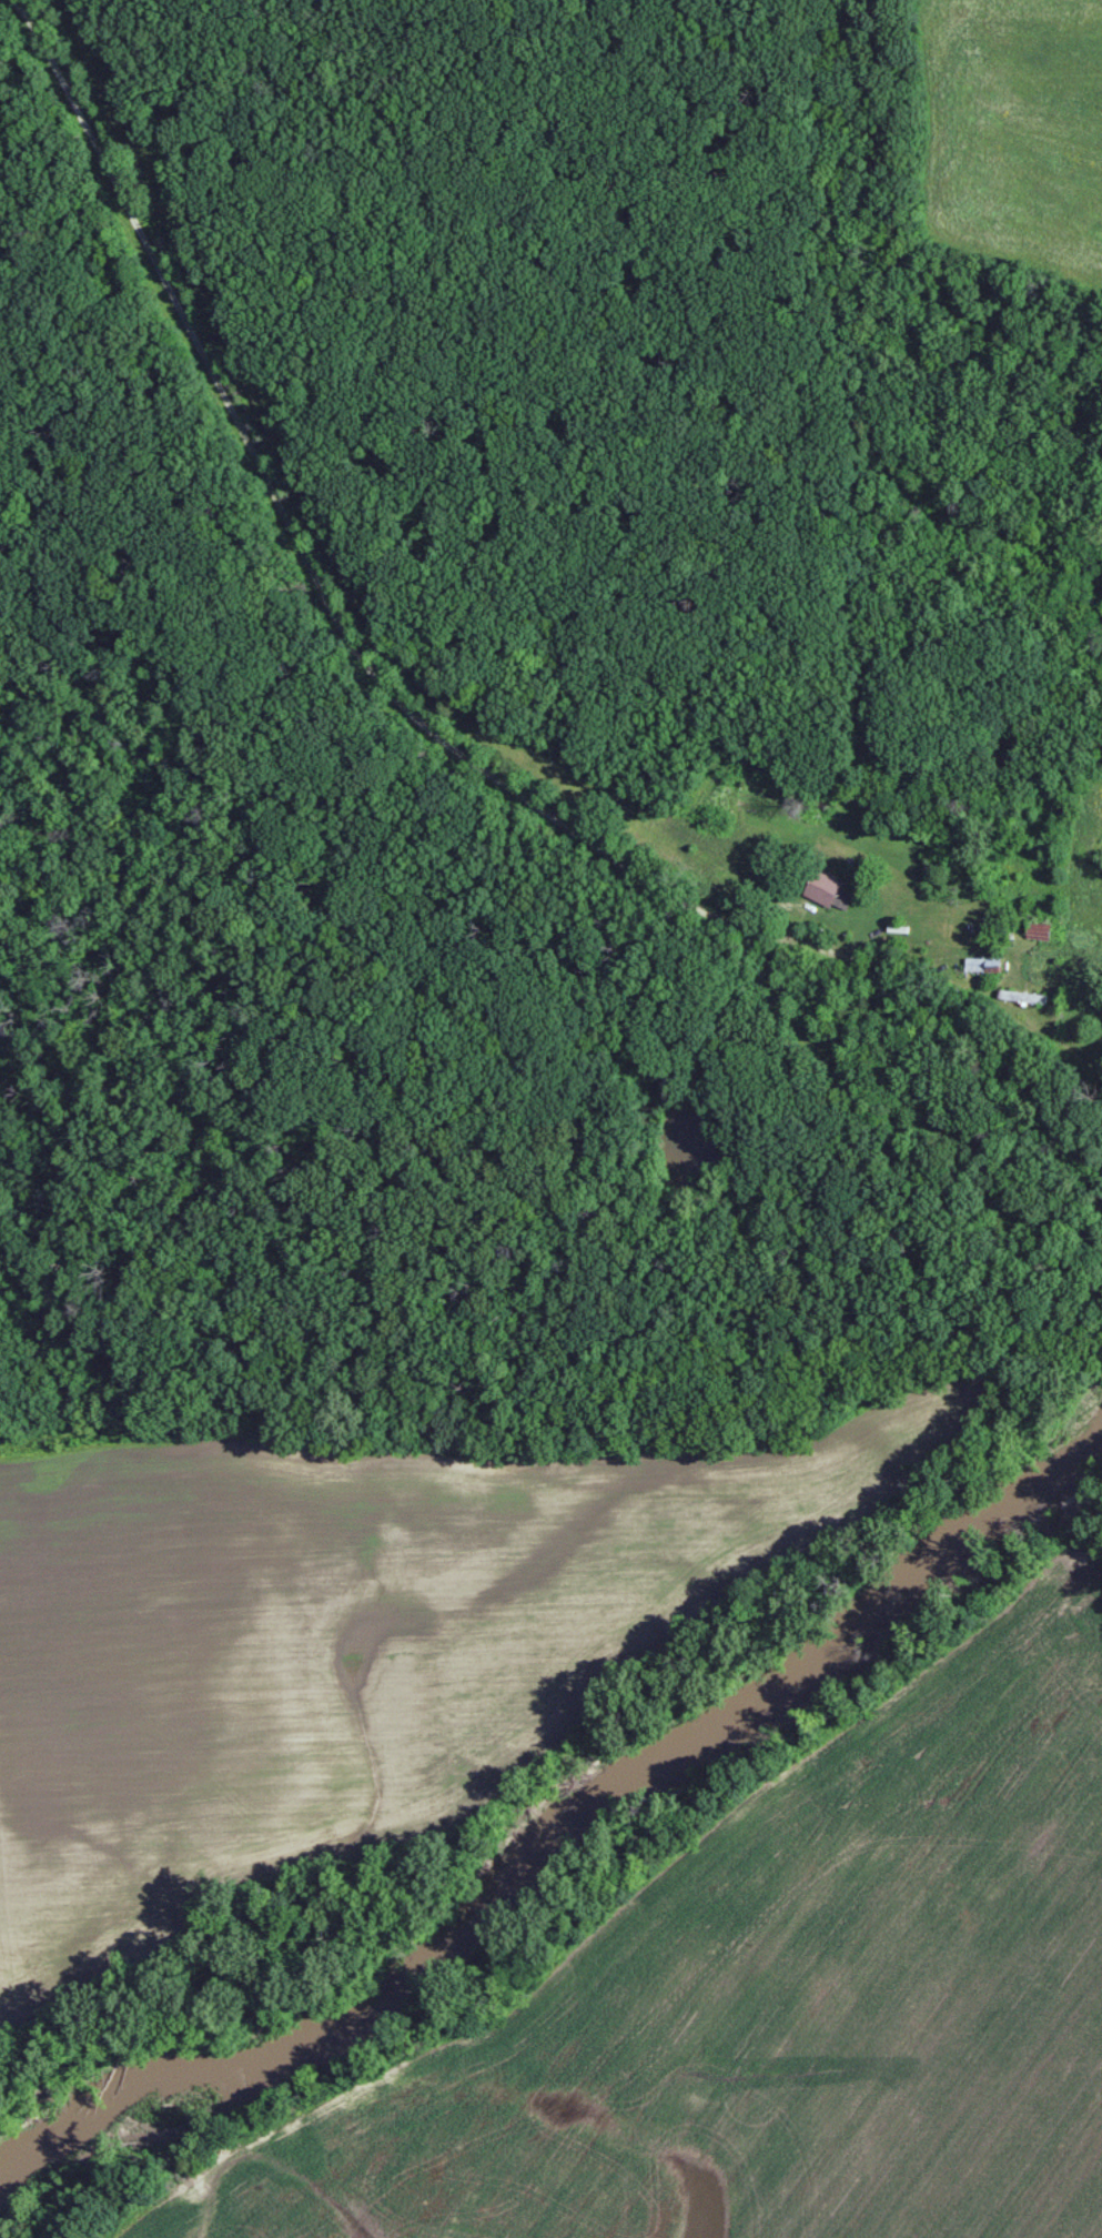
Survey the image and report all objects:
road: (345, 638)
building: (822, 889)
building: (1038, 932)
building: (982, 965)
building: (1022, 997)
crop: (335, 1639)
crop: (776, 2009)

